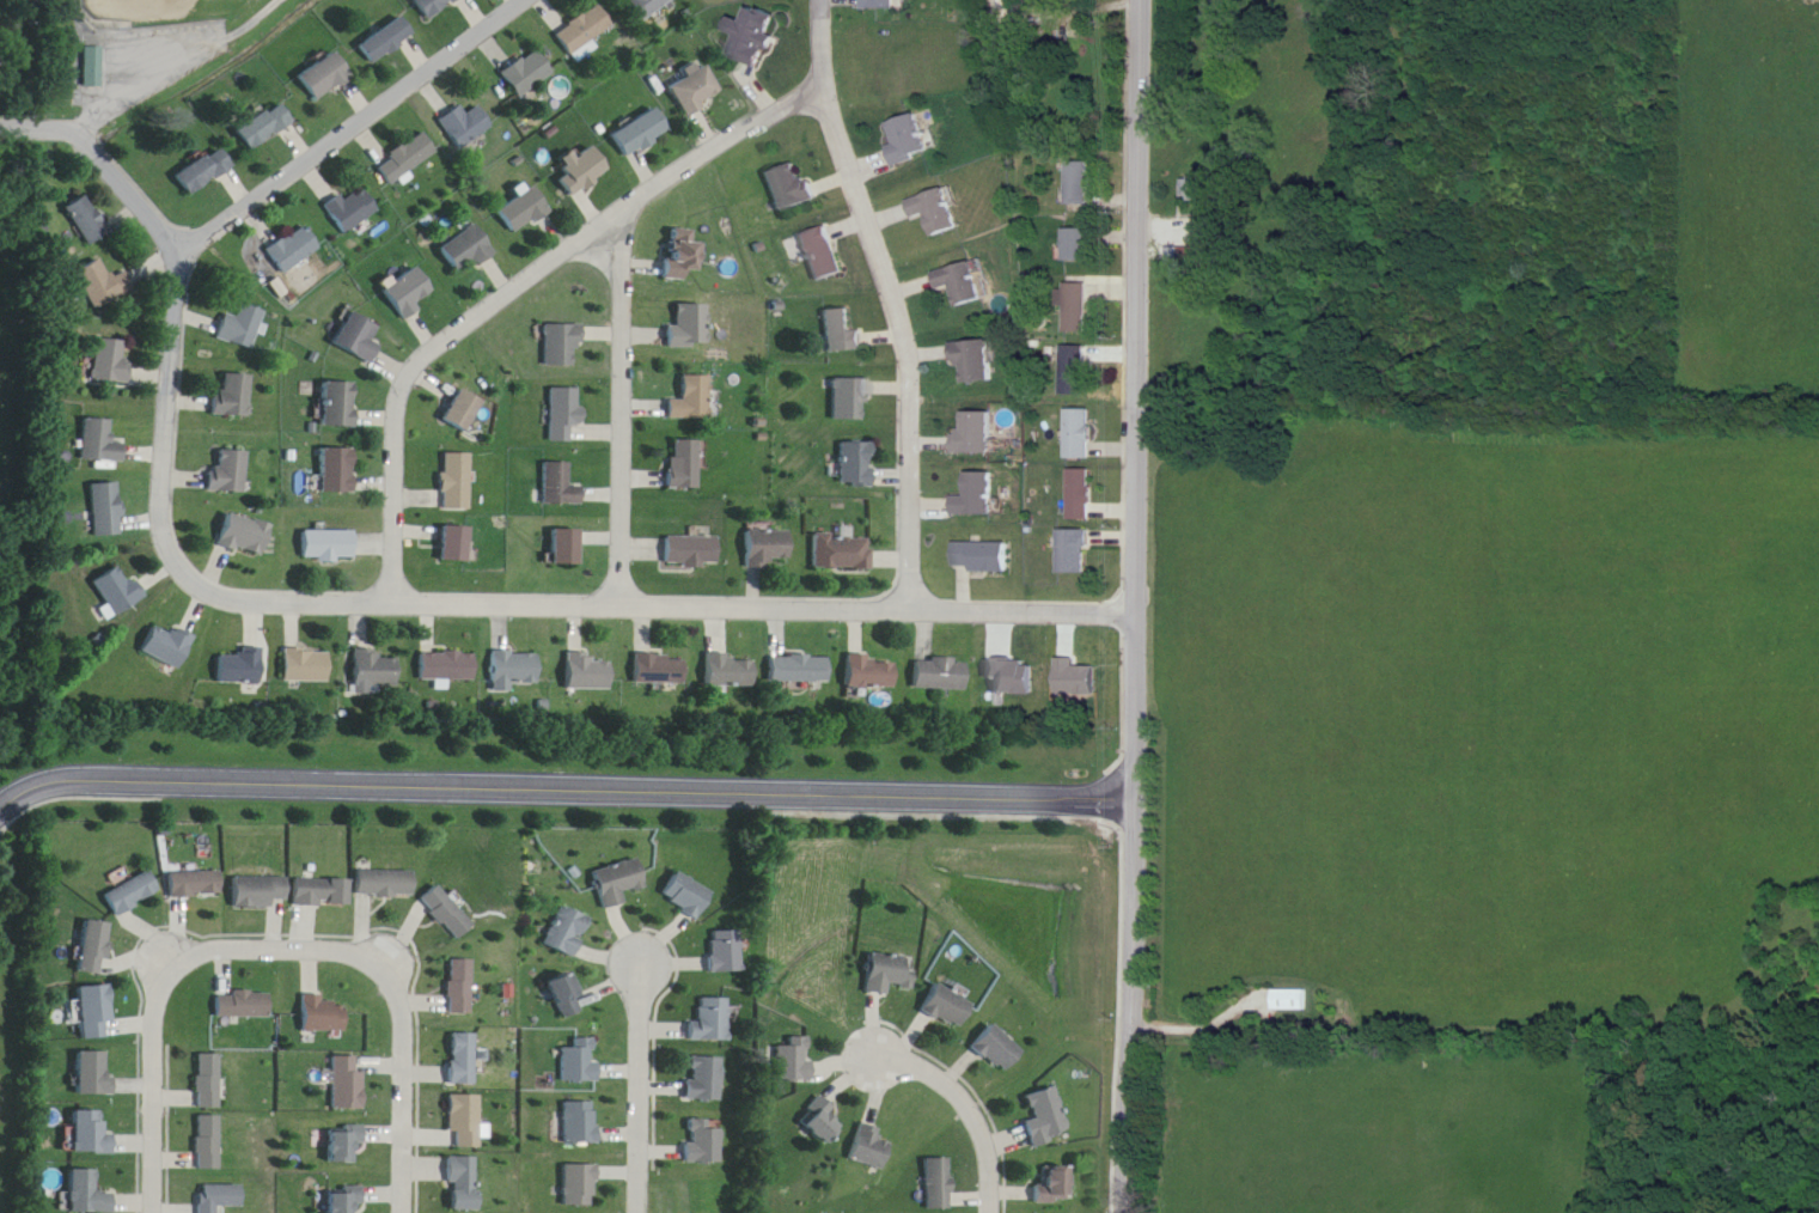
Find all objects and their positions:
park: (133, 1)
building: (880, 5)
building: (432, 6)
building: (647, 7)
building: (1011, 13)
building: (586, 31)
building: (753, 36)
building: (386, 39)
parking lot: (157, 41)
park: (130, 45)
road: (176, 56)
building: (97, 67)
building: (529, 73)
building: (325, 77)
building: (700, 90)
road: (344, 117)
building: (465, 126)
building: (264, 127)
building: (645, 133)
building: (910, 141)
road: (105, 144)
building: (407, 158)
building: (205, 171)
building: (586, 171)
building: (1080, 184)
building: (791, 187)
building: (1202, 190)
building: (352, 211)
building: (525, 211)
building: (938, 212)
building: (86, 220)
building: (1080, 246)
building: (293, 249)
building: (468, 250)
building: (823, 255)
building: (684, 256)
building: (1183, 257)
road: (515, 274)
building: (100, 284)
building: (965, 284)
road: (892, 291)
building: (410, 292)
road: (1137, 298)
building: (1079, 309)
building: (243, 327)
building: (691, 328)
building: (843, 333)
building: (359, 337)
building: (563, 346)
building: (110, 361)
building: (978, 361)
building: (1078, 371)
road: (619, 392)
building: (233, 397)
building: (850, 398)
building: (692, 401)
building: (341, 404)
building: (465, 410)
building: (566, 413)
building: (979, 433)
building: (1082, 434)
building: (102, 443)
building: (857, 463)
building: (686, 465)
building: (338, 470)
building: (227, 473)
building: (458, 481)
building: (560, 486)
building: (1082, 495)
building: (981, 496)
building: (105, 510)
building: (244, 535)
building: (458, 544)
building: (329, 545)
building: (567, 548)
building: (770, 548)
building: (692, 550)
building: (843, 550)
building: (1075, 553)
building: (985, 557)
road: (490, 586)
building: (118, 591)
building: (169, 646)
building: (309, 666)
building: (448, 666)
building: (242, 668)
building: (801, 669)
building: (661, 670)
building: (515, 671)
building: (732, 672)
building: (376, 673)
building: (587, 673)
building: (871, 673)
building: (942, 675)
road: (563, 776)
building: (619, 880)
building: (387, 882)
building: (197, 883)
building: (263, 890)
building: (324, 890)
building: (133, 892)
building: (688, 894)
road: (1135, 904)
building: (450, 910)
building: (570, 929)
road: (277, 935)
building: (94, 946)
building: (727, 950)
building: (891, 971)
building: (464, 985)
building: (569, 993)
building: (1292, 999)
building: (245, 1002)
building: (951, 1005)
building: (96, 1010)
building: (325, 1013)
building: (713, 1019)
building: (1000, 1048)
building: (466, 1057)
building: (796, 1059)
building: (582, 1060)
building: (93, 1073)
building: (706, 1078)
building: (209, 1079)
building: (349, 1083)
road: (639, 1090)
road: (959, 1110)
building: (1048, 1117)
building: (468, 1120)
building: (584, 1121)
building: (91, 1132)
building: (208, 1141)
building: (703, 1141)
building: (347, 1142)
building: (872, 1147)
building: (466, 1182)
building: (939, 1183)
building: (582, 1184)
building: (1054, 1185)
building: (86, 1193)
building: (220, 1196)
building: (346, 1202)

